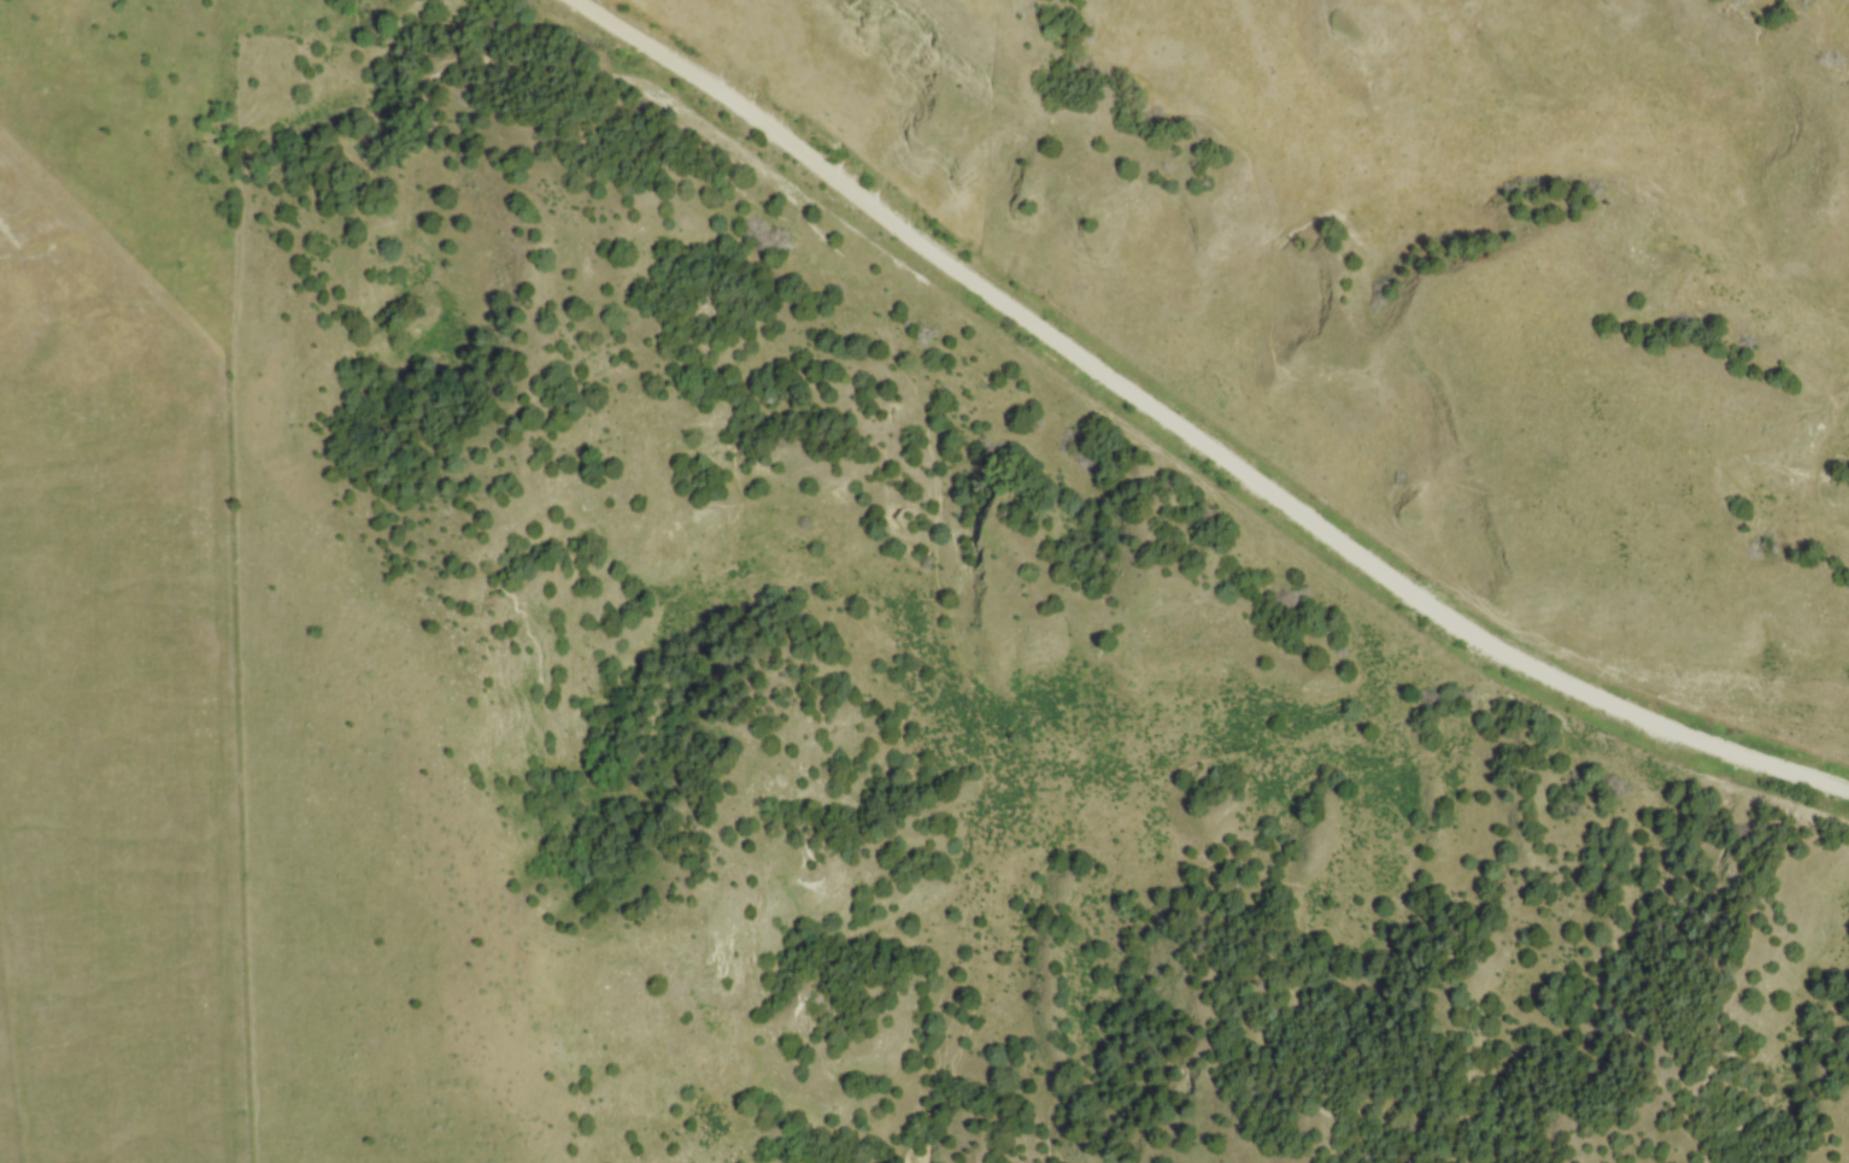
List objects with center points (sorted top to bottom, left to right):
road: (1188, 437)

